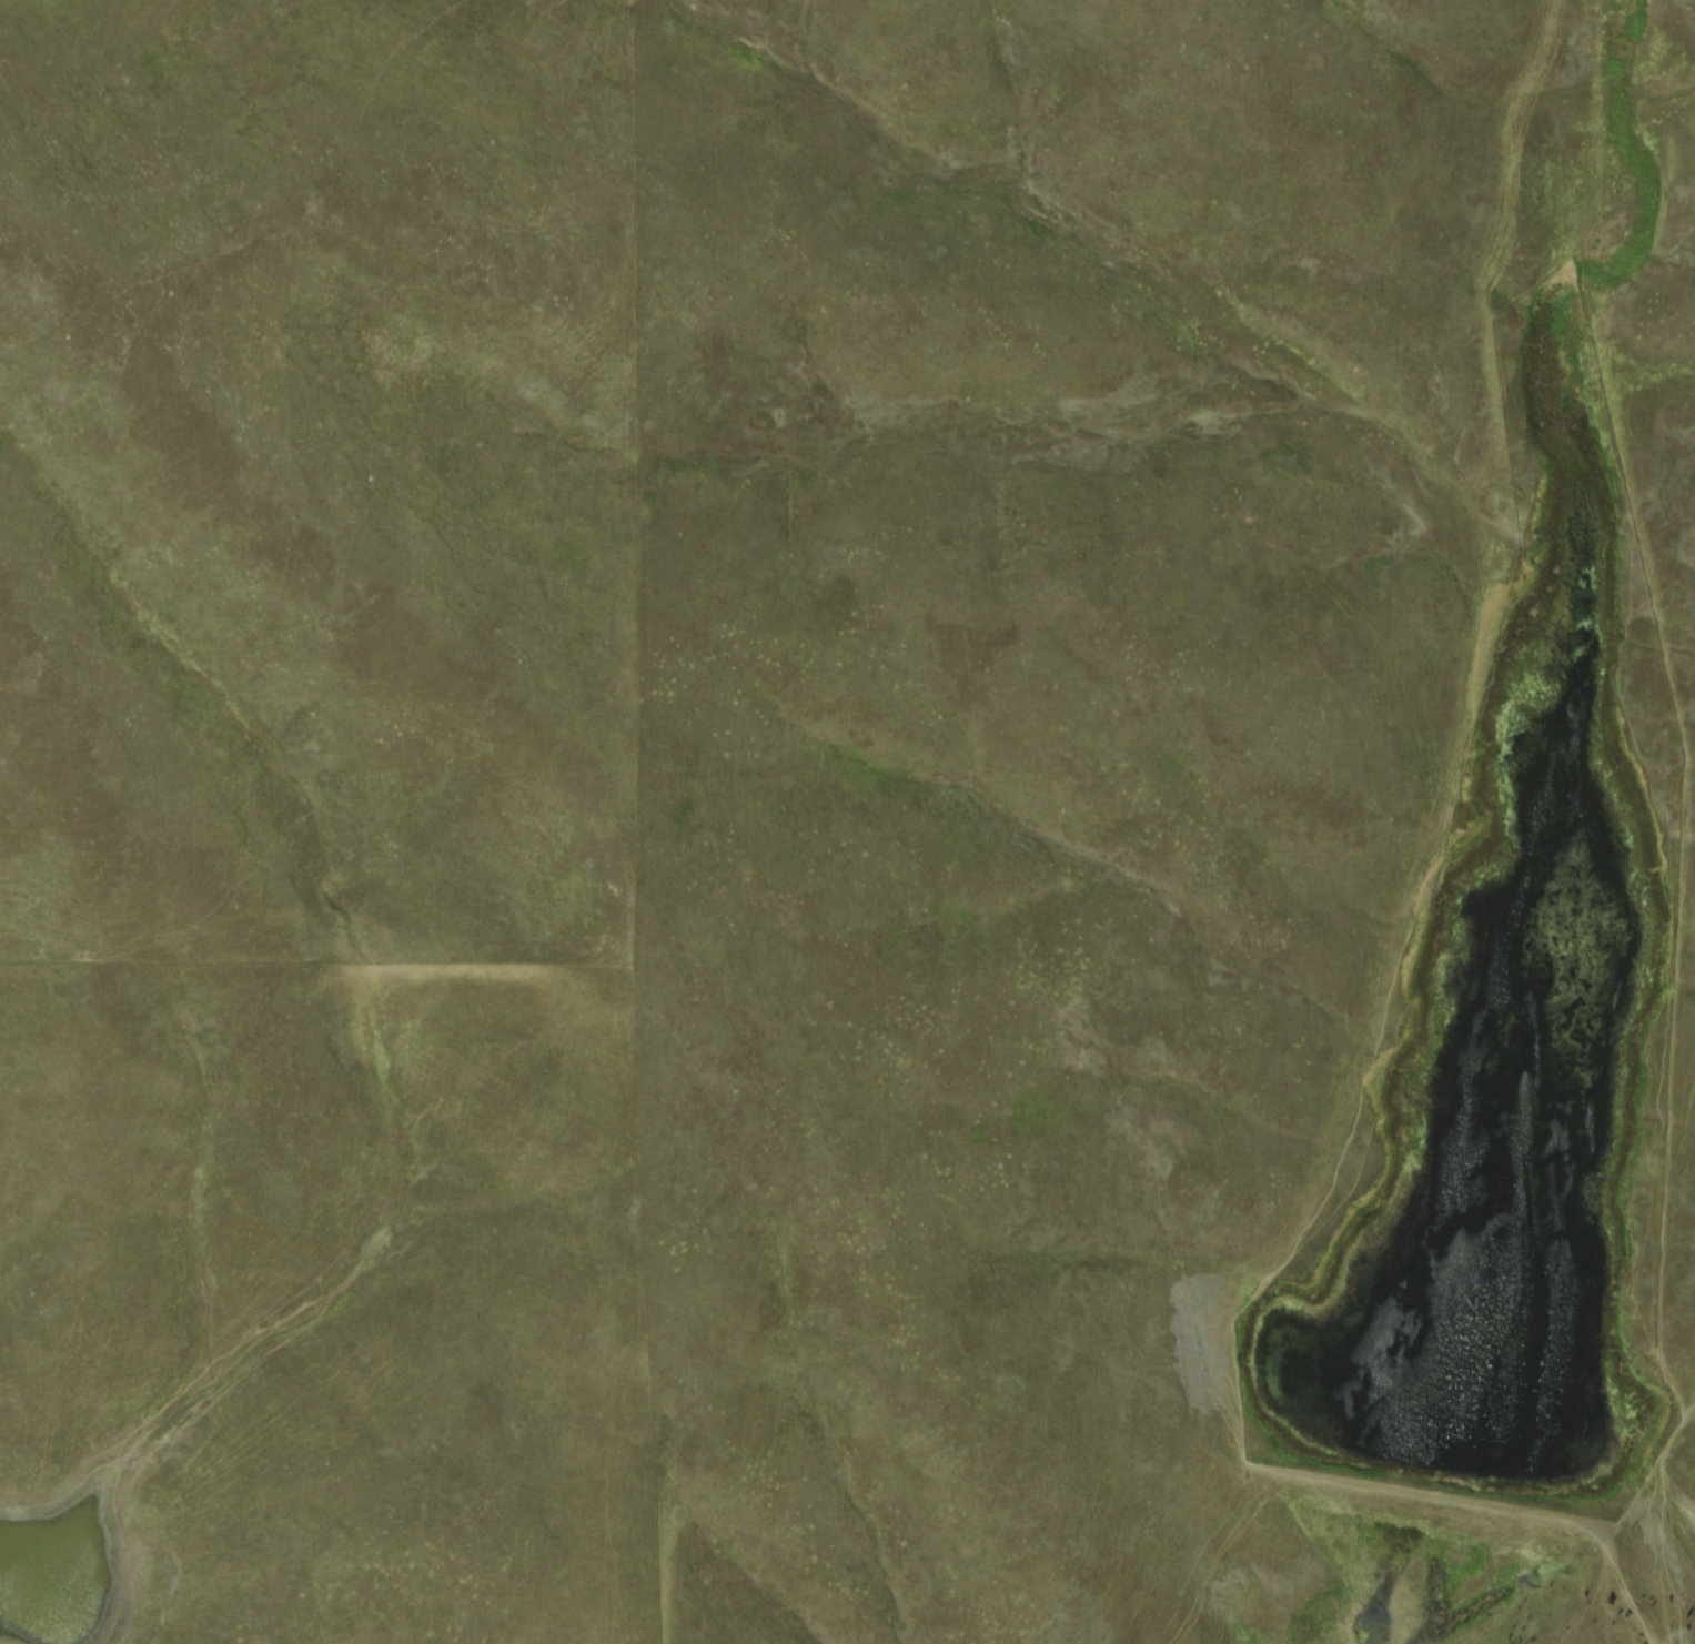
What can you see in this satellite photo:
road: (1623, 1623)

